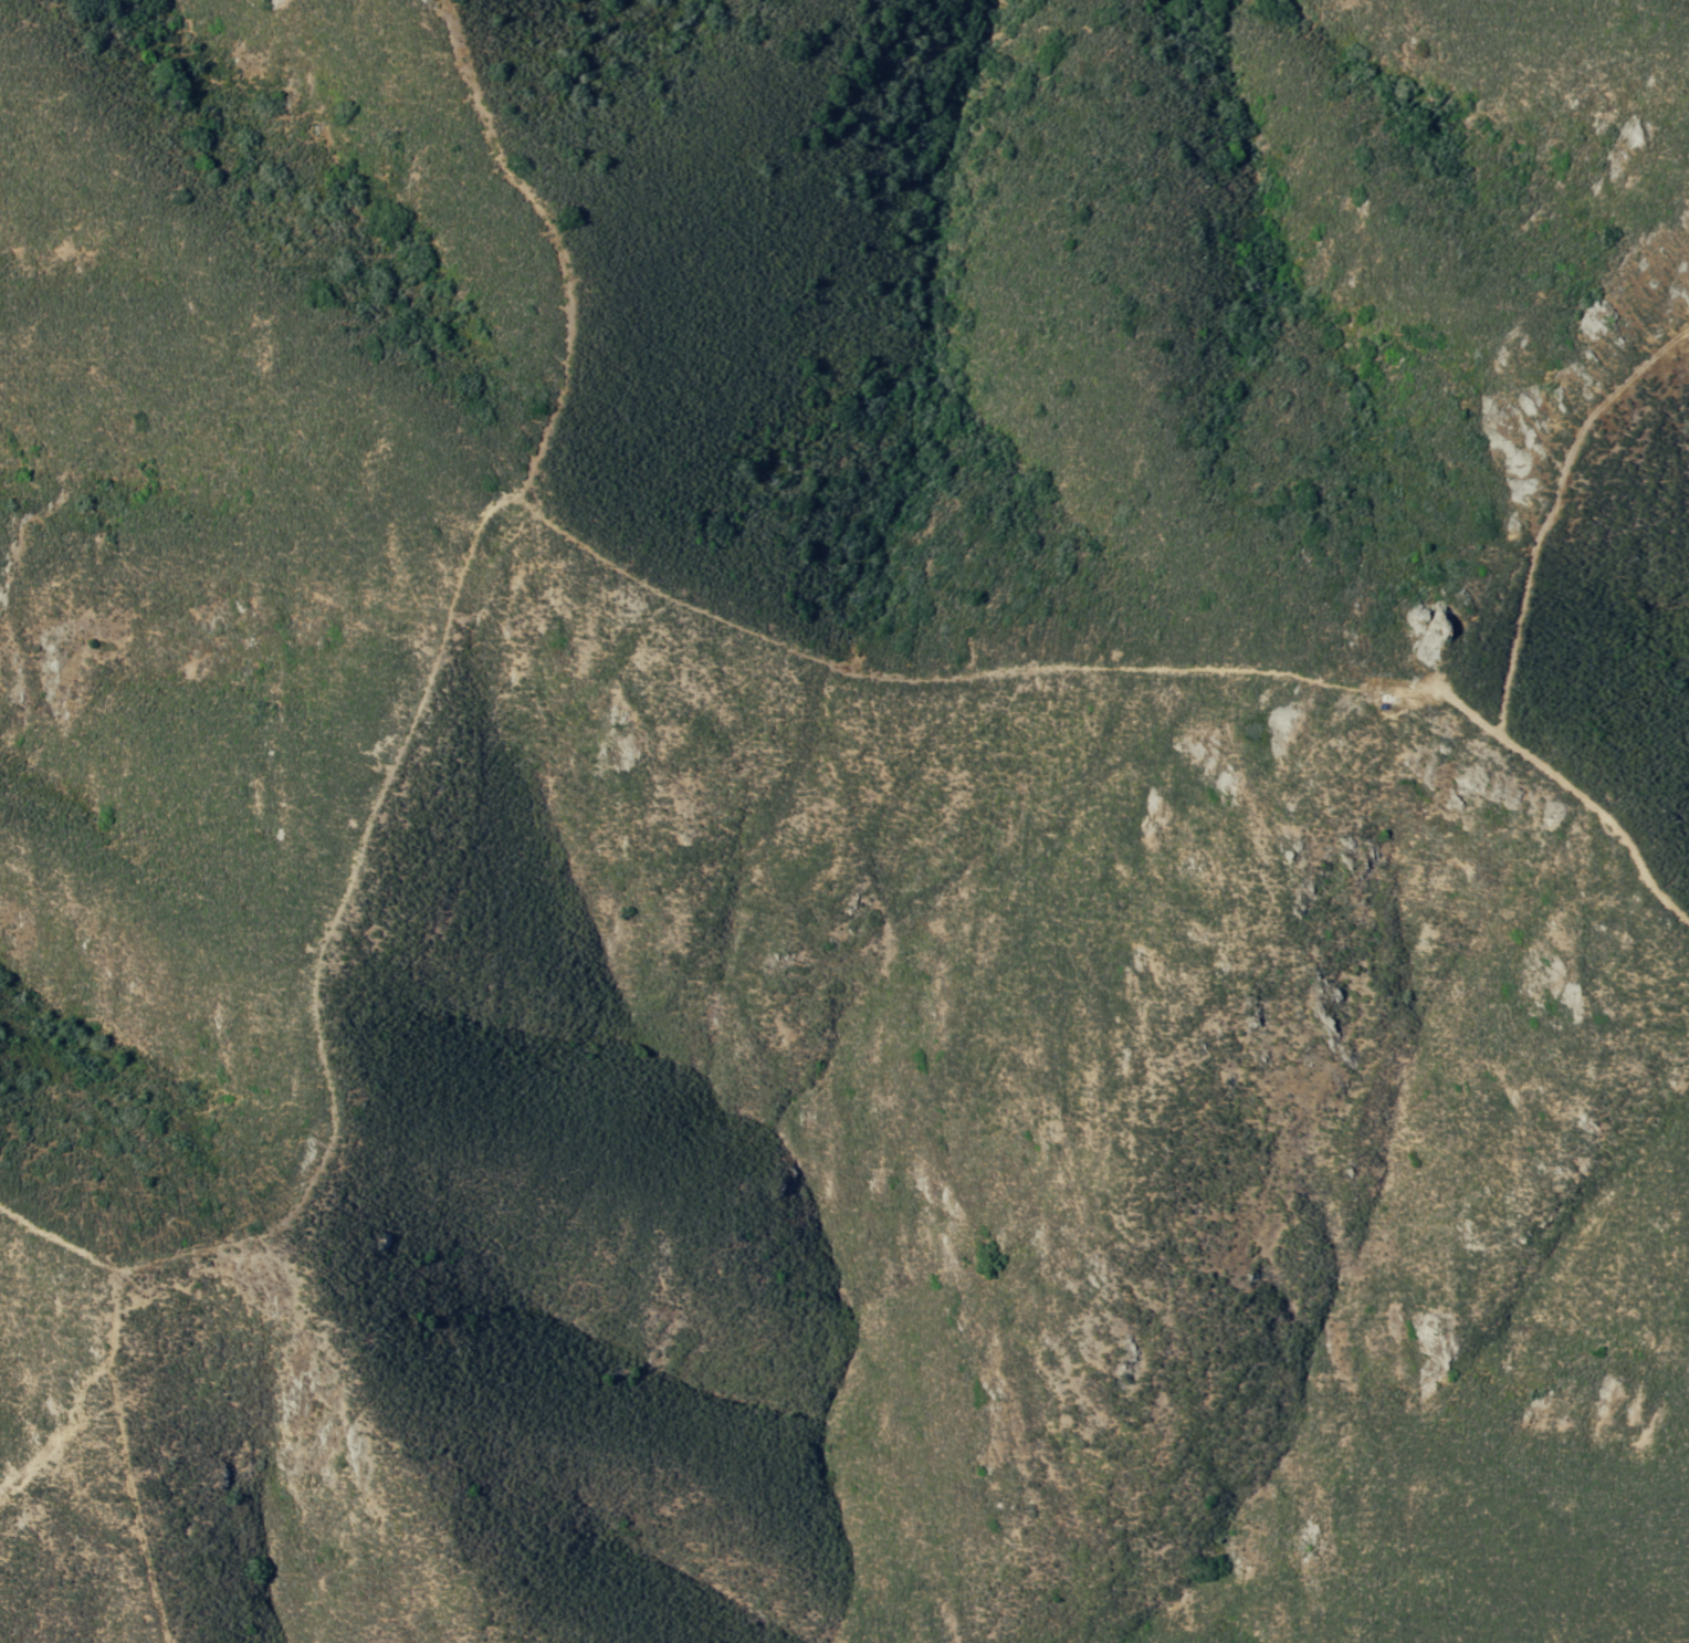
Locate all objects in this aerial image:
road: (1554, 507)
road: (615, 562)

